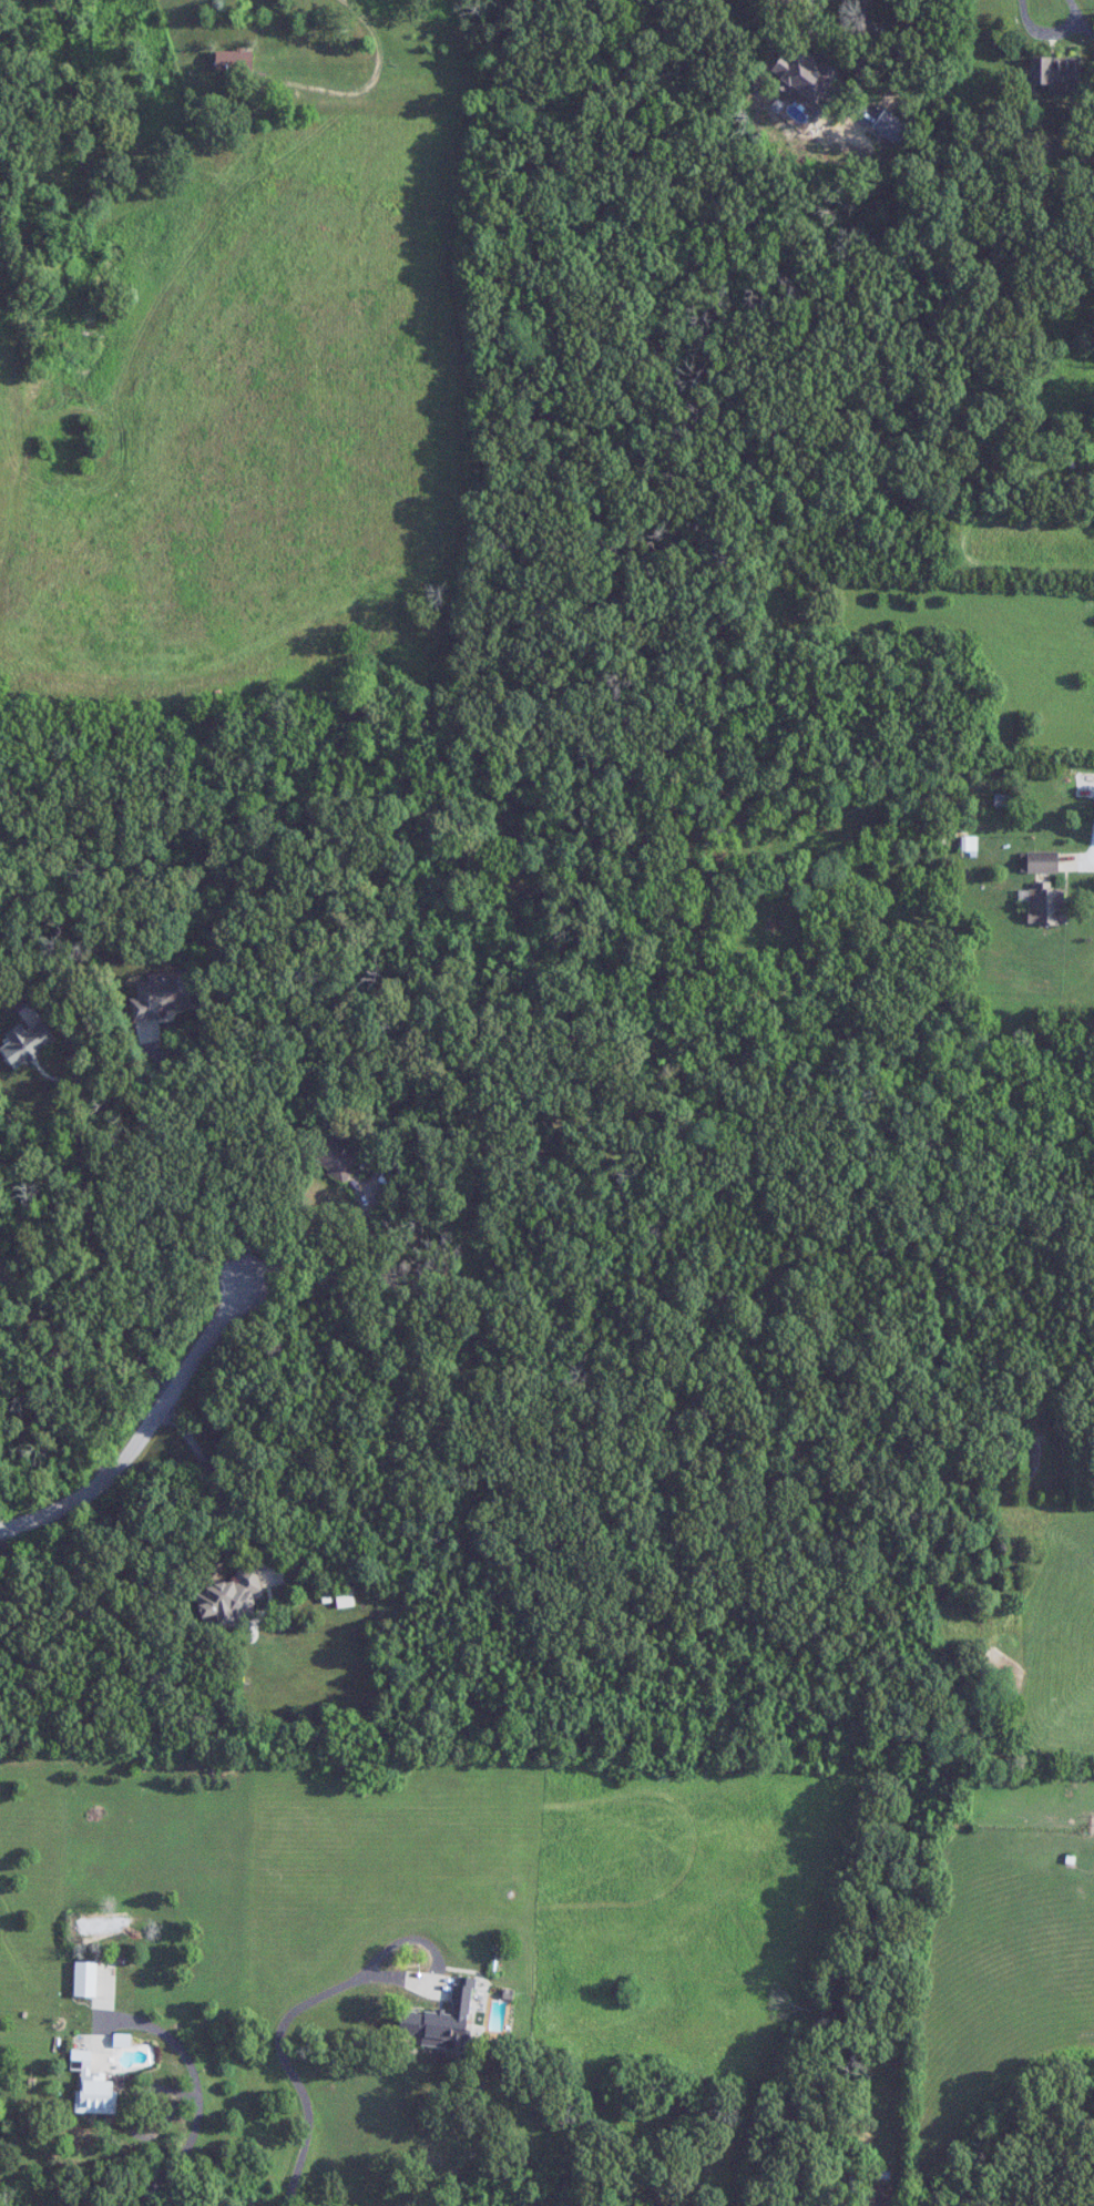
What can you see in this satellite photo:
road: (1085, 29)
road: (1050, 33)
road: (842, 57)
building: (237, 67)
building: (805, 73)
building: (1060, 74)
road: (356, 78)
building: (970, 846)
road: (1093, 850)
building: (1042, 861)
building: (1046, 903)
building: (160, 995)
building: (27, 1043)
road: (30, 1116)
building: (334, 1155)
road: (136, 1222)
road: (163, 1291)
road: (201, 1365)
road: (61, 1369)
road: (241, 1520)
road: (11, 1564)
building: (231, 1594)
building: (345, 1597)
building: (442, 2020)
road: (285, 2065)
road: (415, 2073)
building: (96, 2094)
road: (197, 2101)
road: (521, 2156)
building: (882, 2196)
building: (796, 2200)

